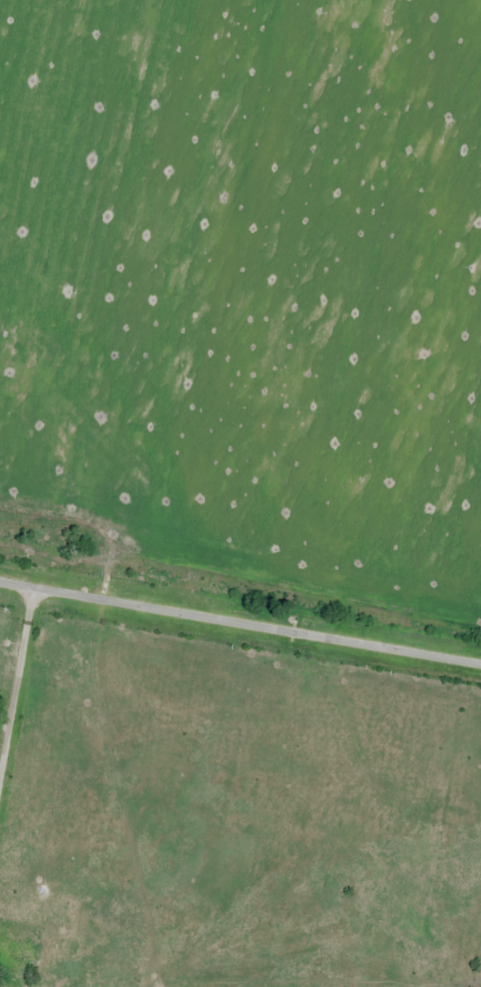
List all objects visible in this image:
road: (240, 622)
road: (17, 683)
building: (12, 956)

